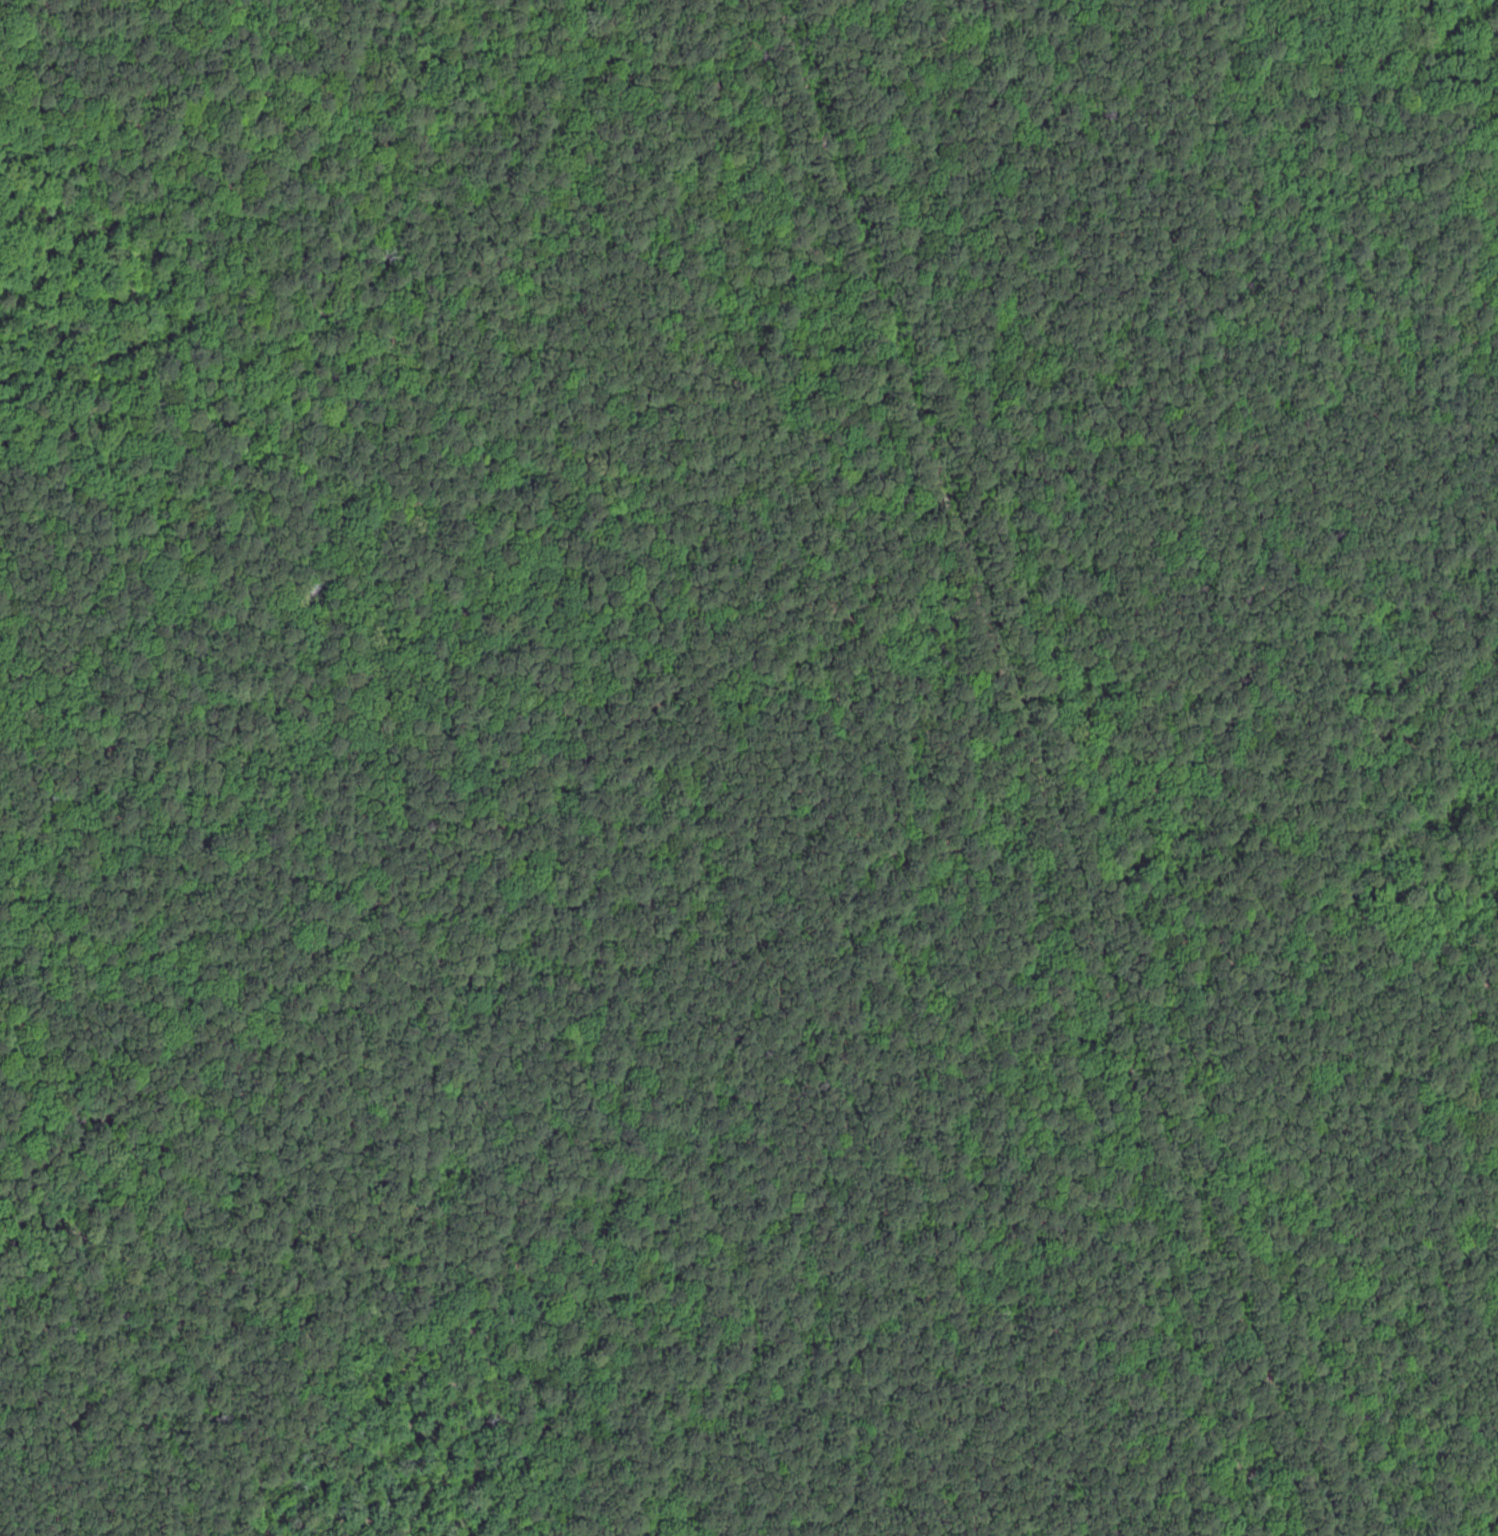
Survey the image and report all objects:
road: (16, 37)
road: (894, 256)
road: (916, 534)
park: (749, 768)

